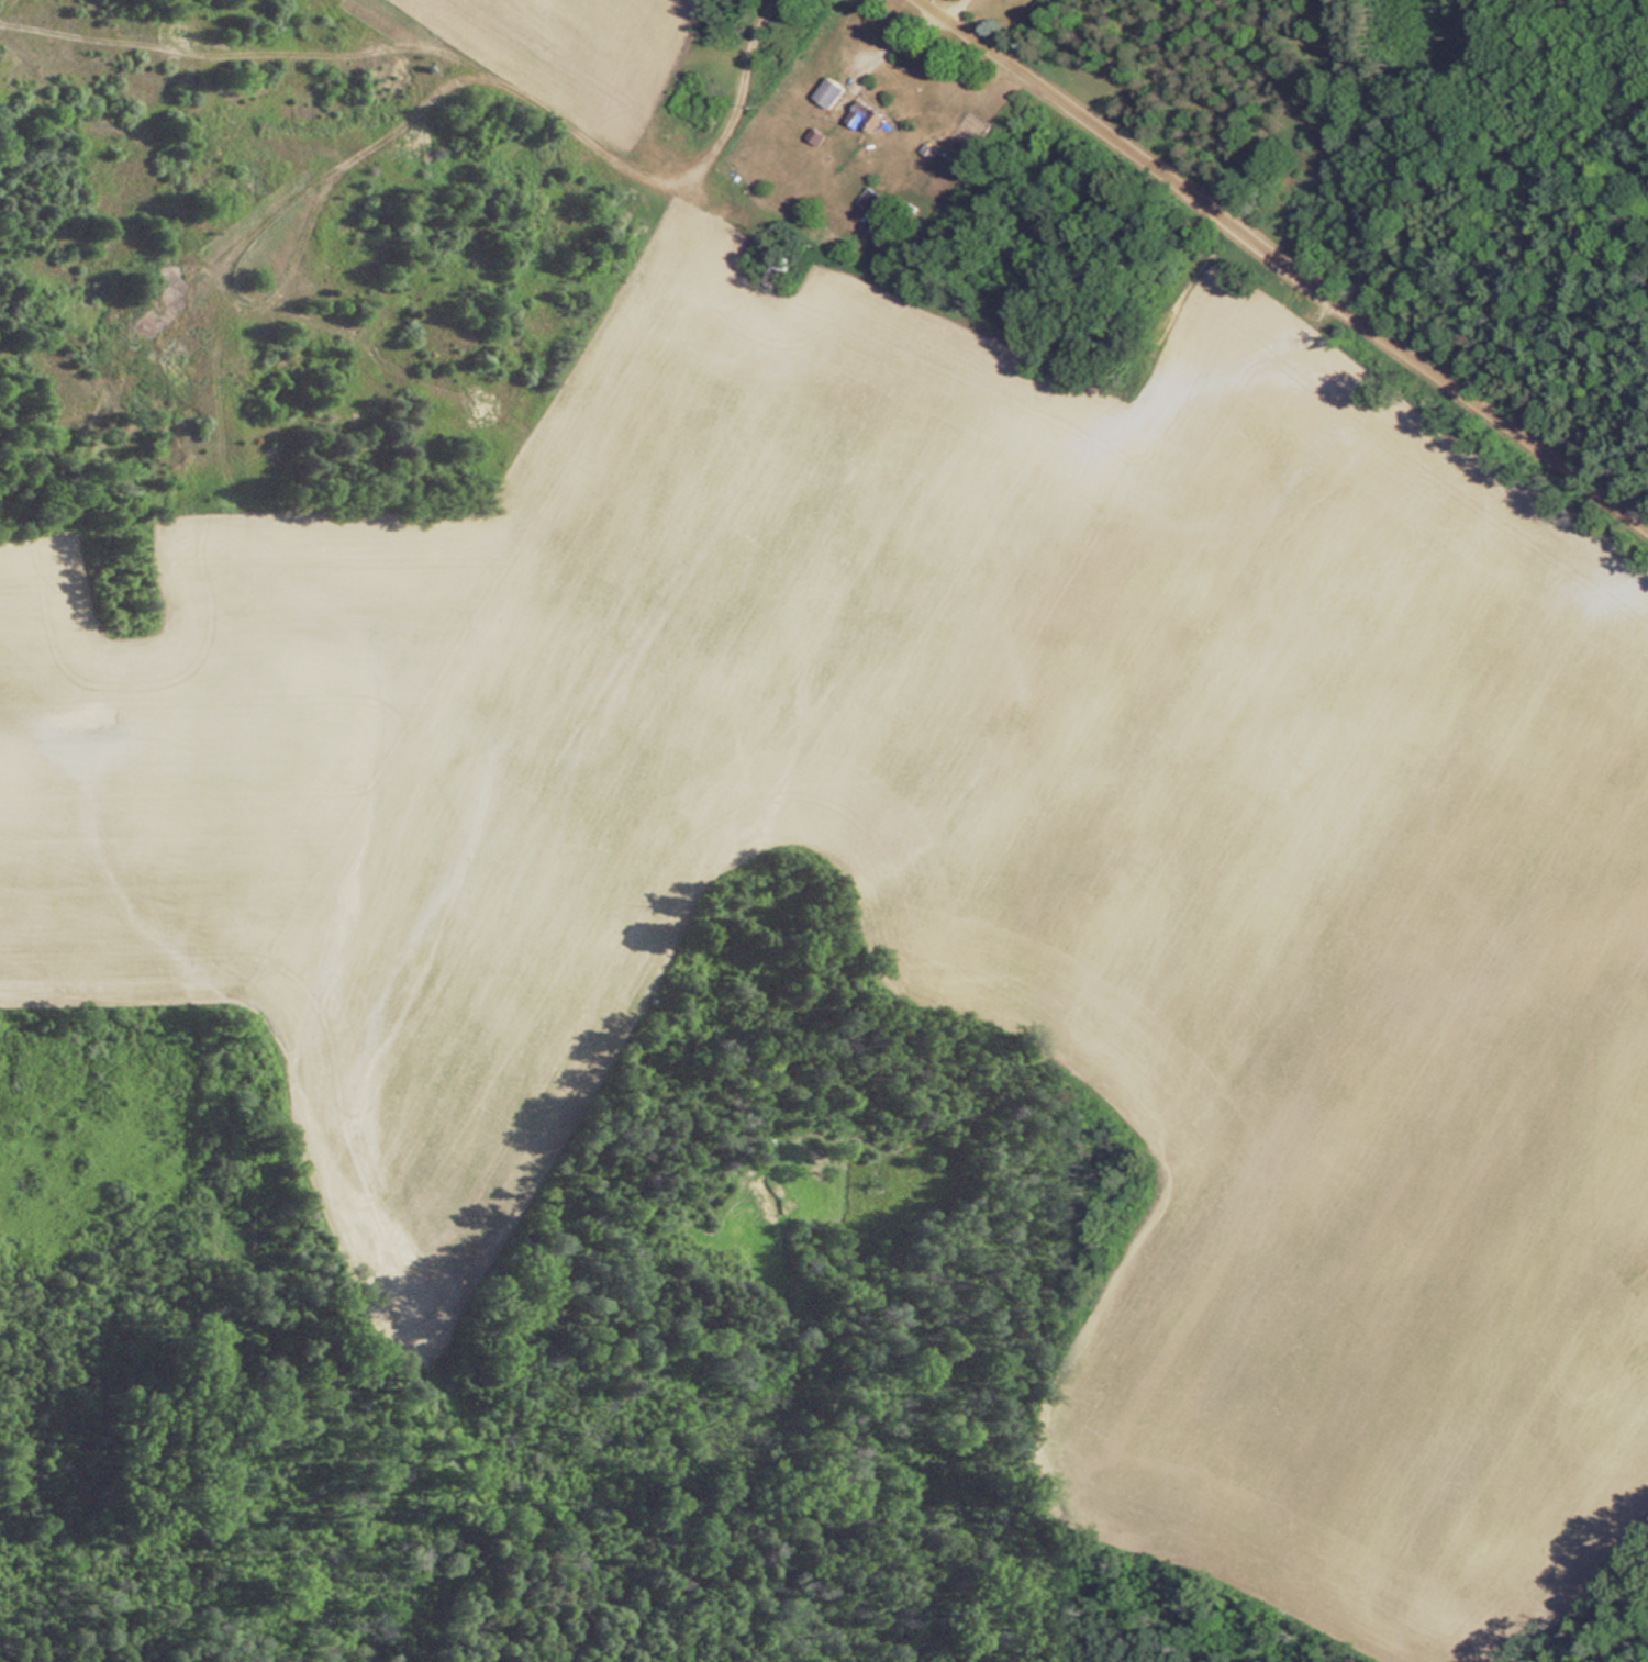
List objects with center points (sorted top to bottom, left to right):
building: (831, 92)
building: (867, 115)
road: (1280, 264)

